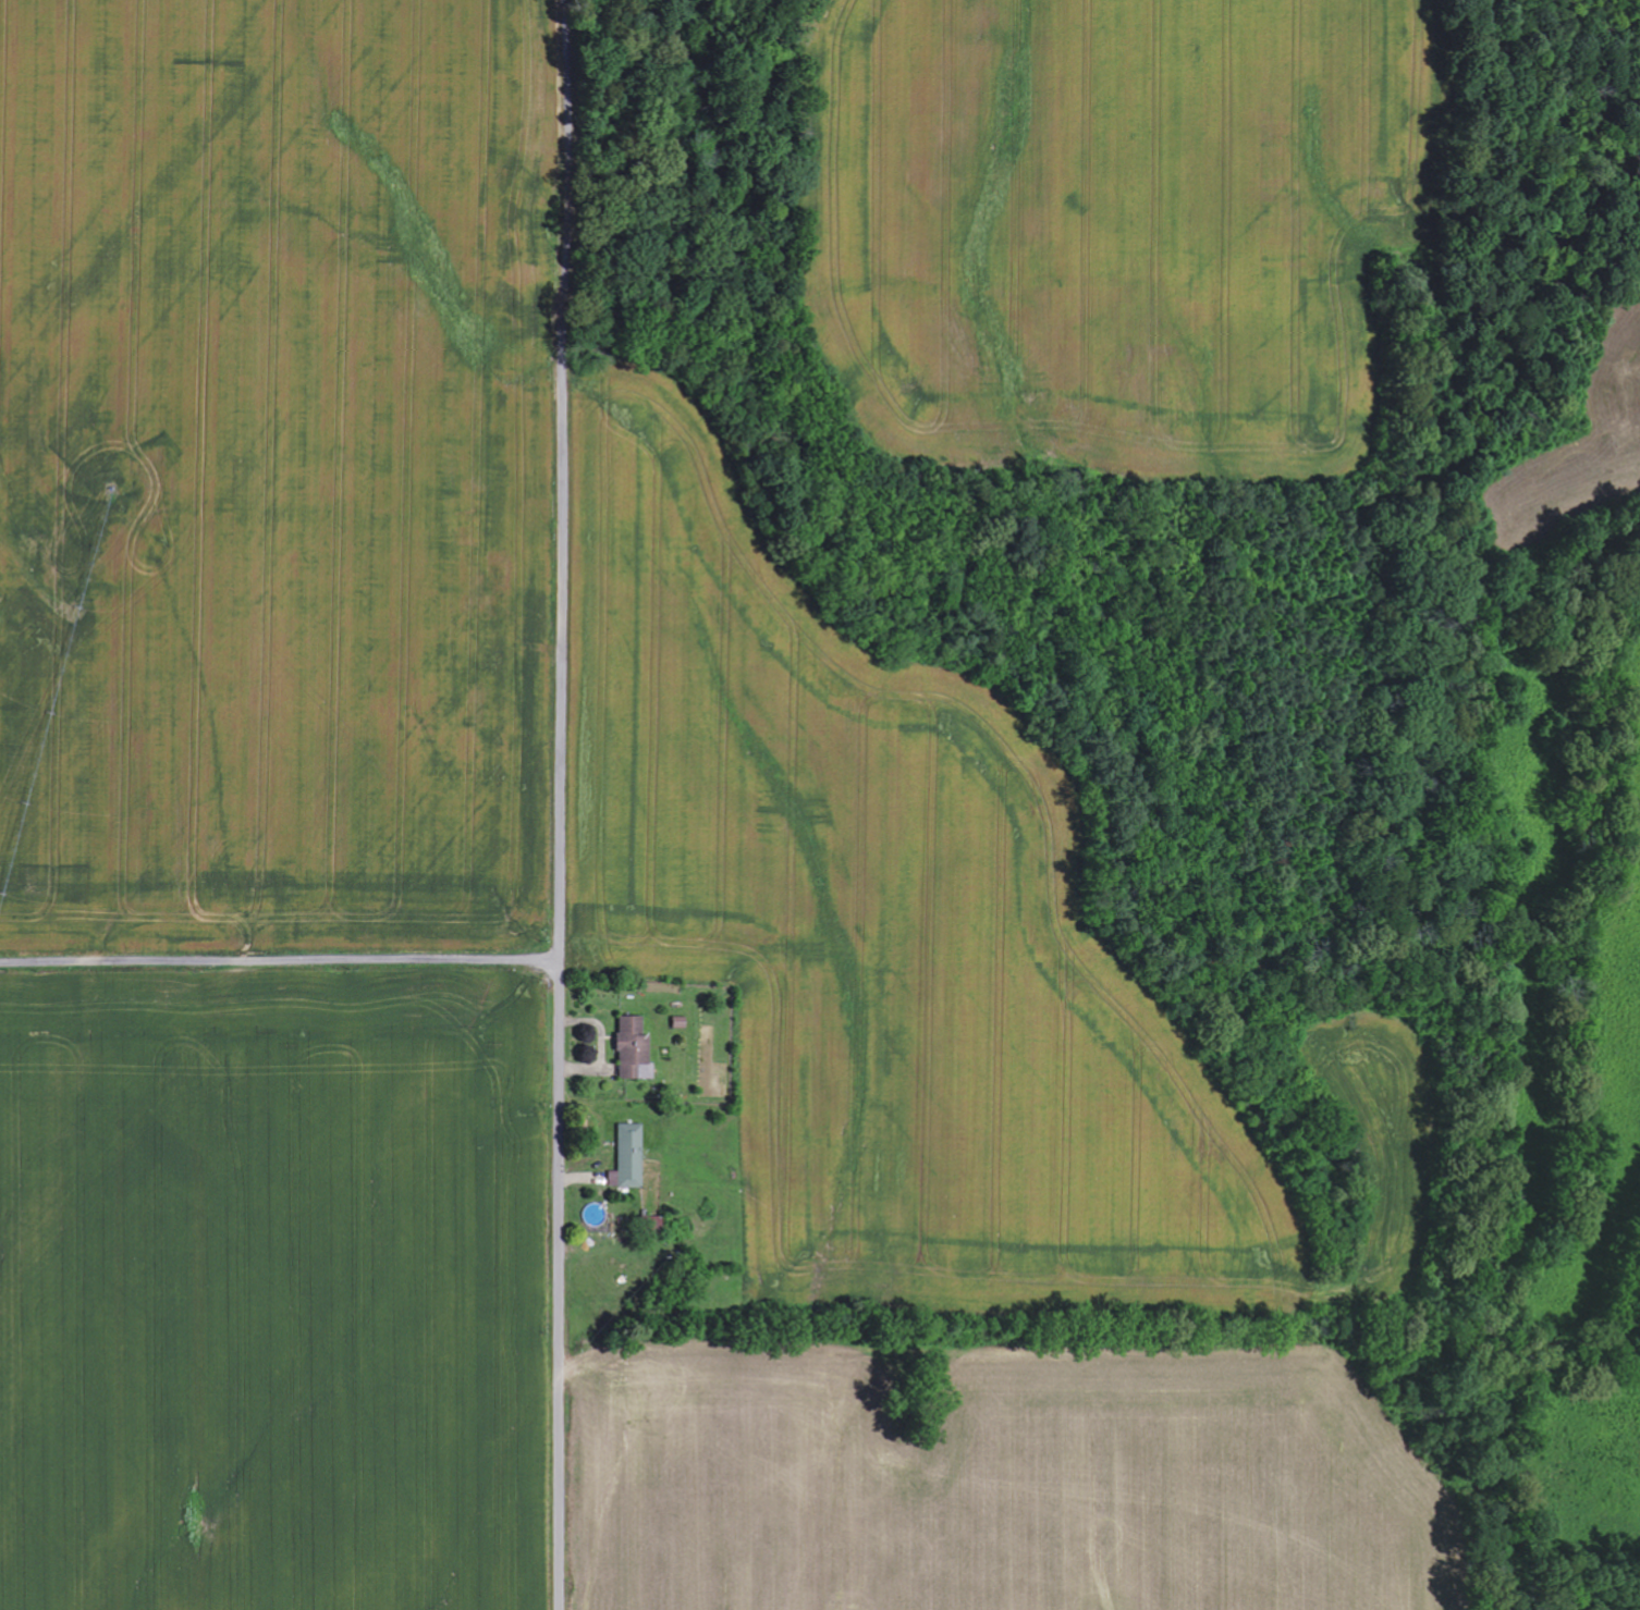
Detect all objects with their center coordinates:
road: (570, 213)
road: (280, 960)
road: (560, 1019)
building: (631, 1155)

